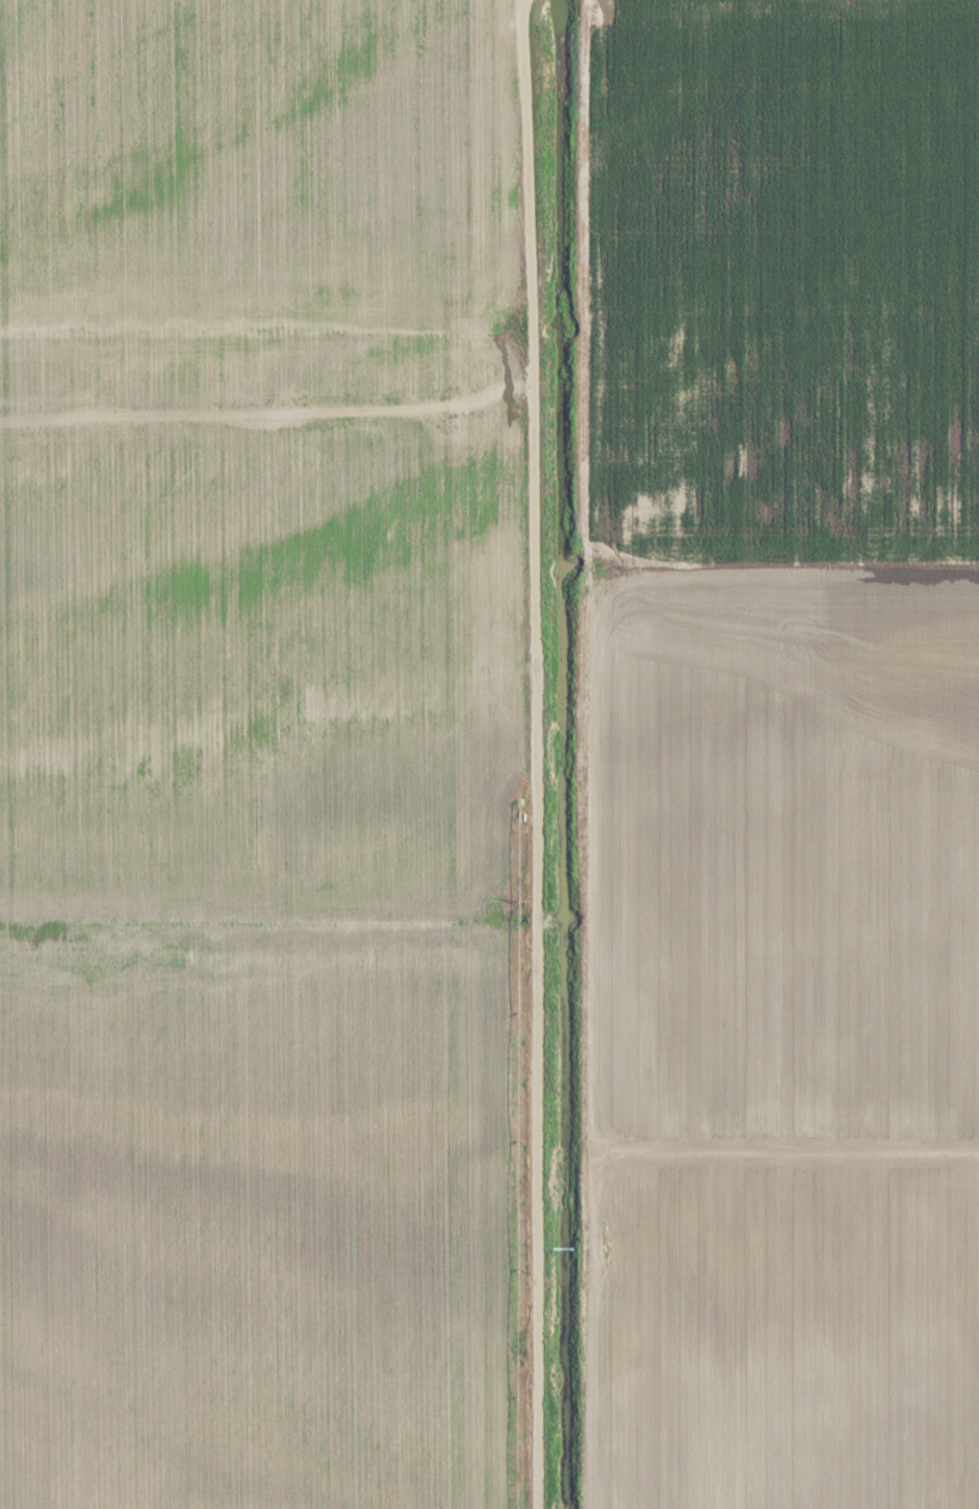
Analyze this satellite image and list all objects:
road: (531, 754)

